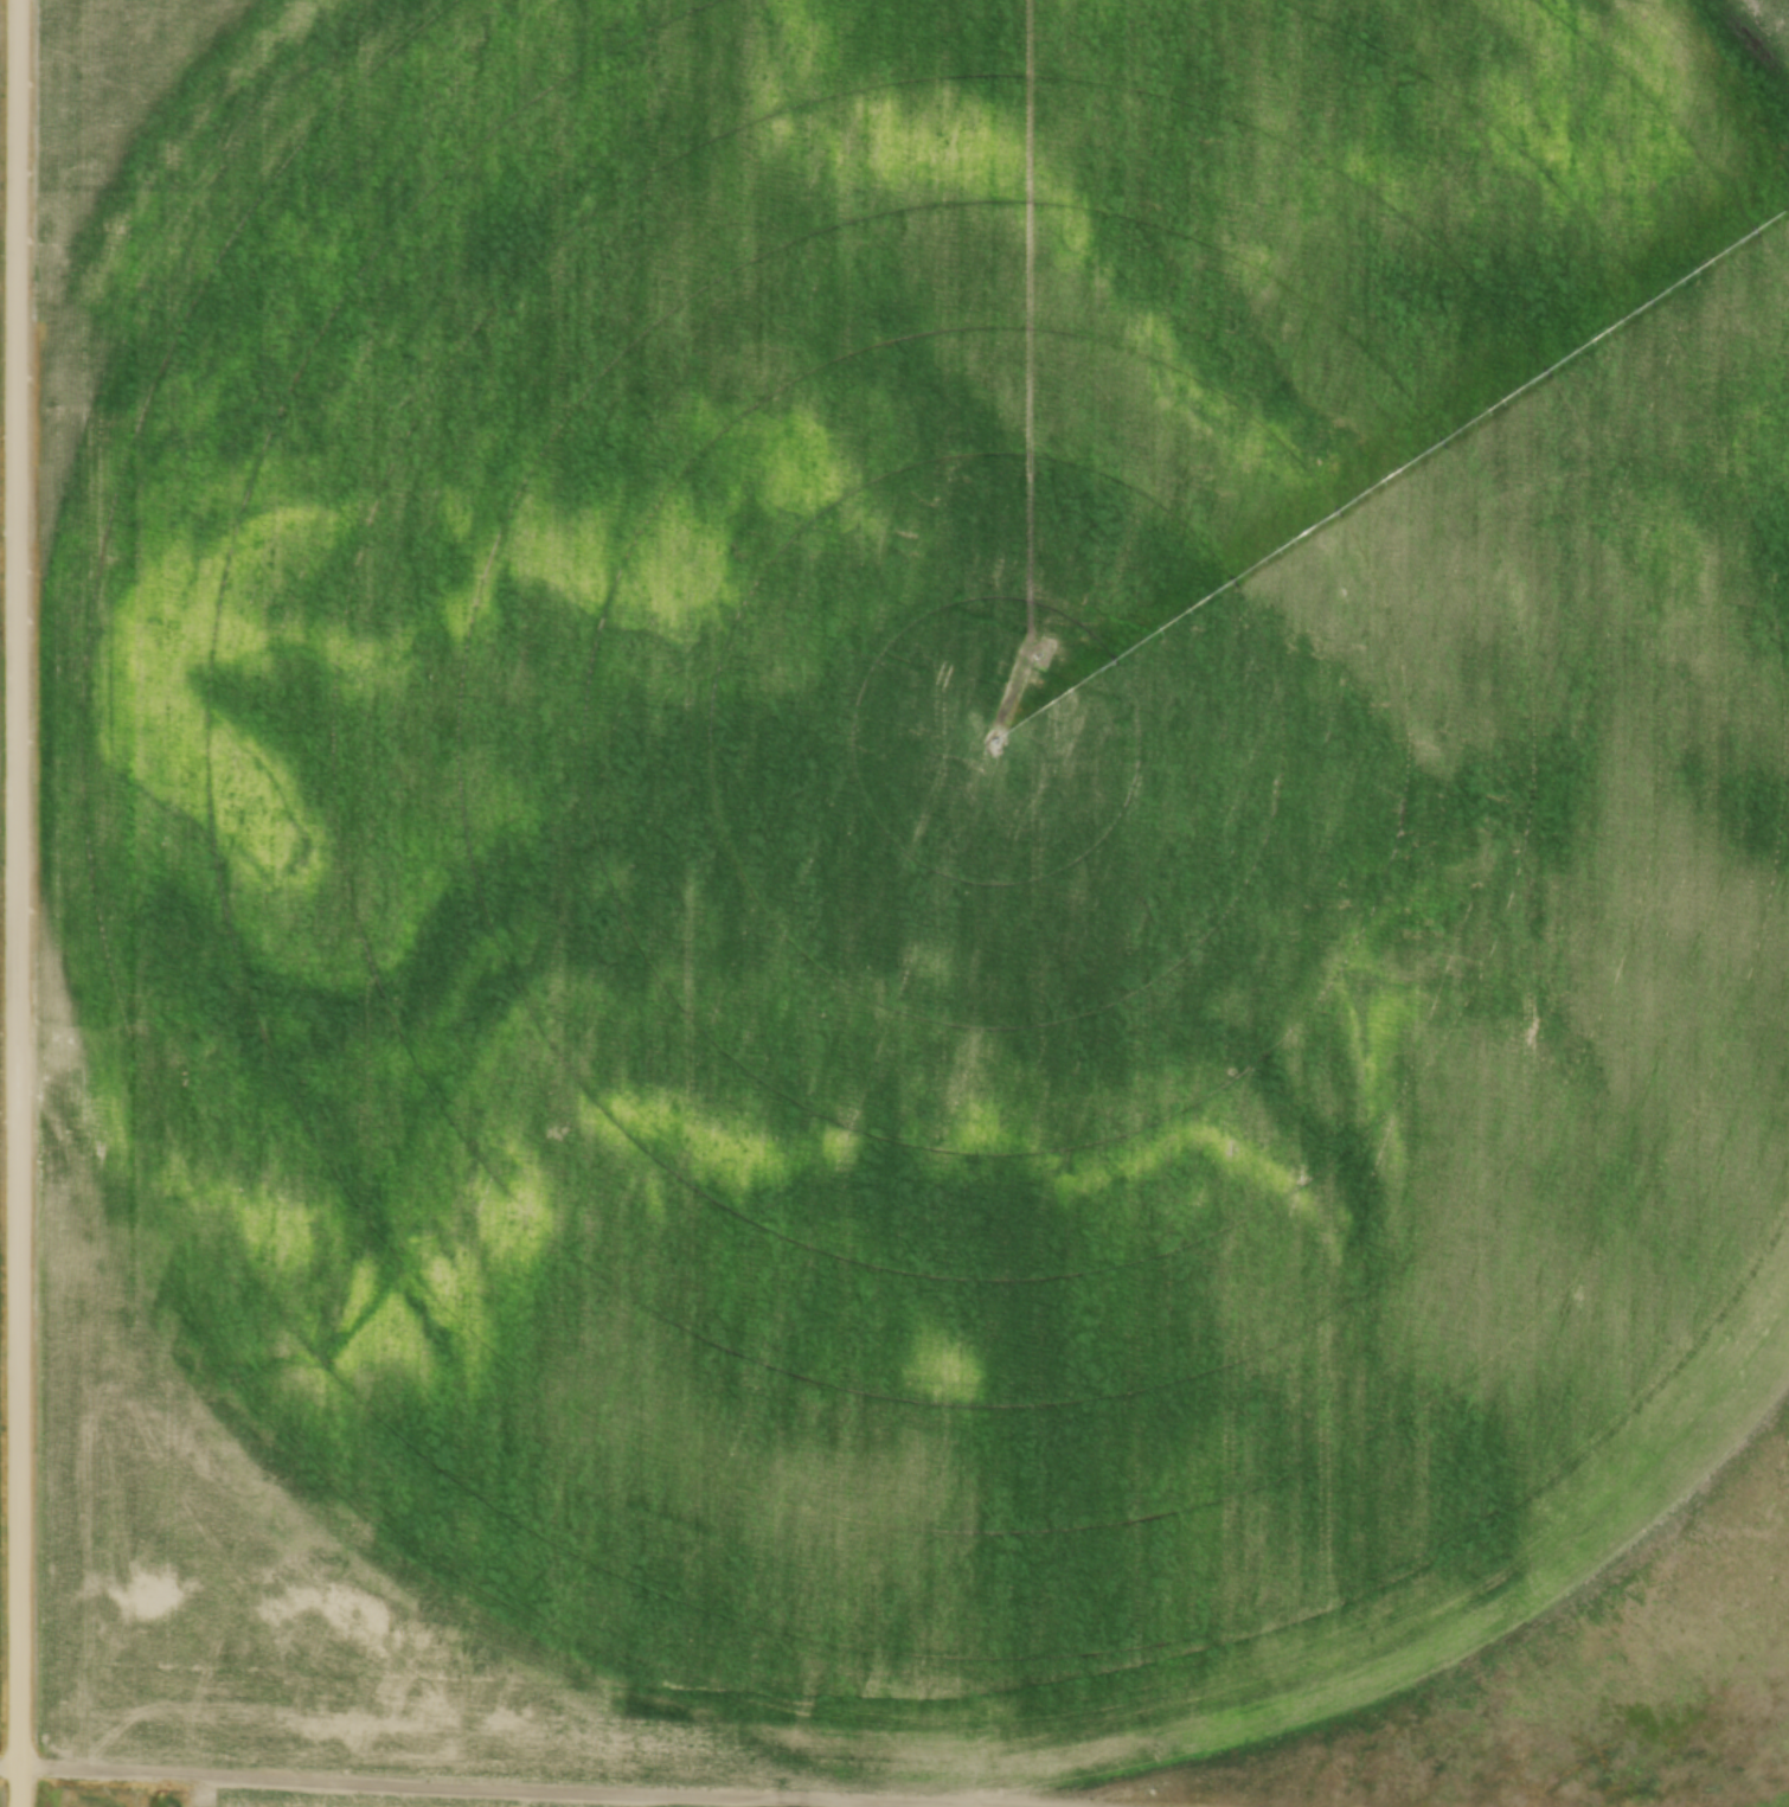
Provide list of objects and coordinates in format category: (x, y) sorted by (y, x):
crop: (891, 861)
road: (14, 903)
crop: (331, 1799)

